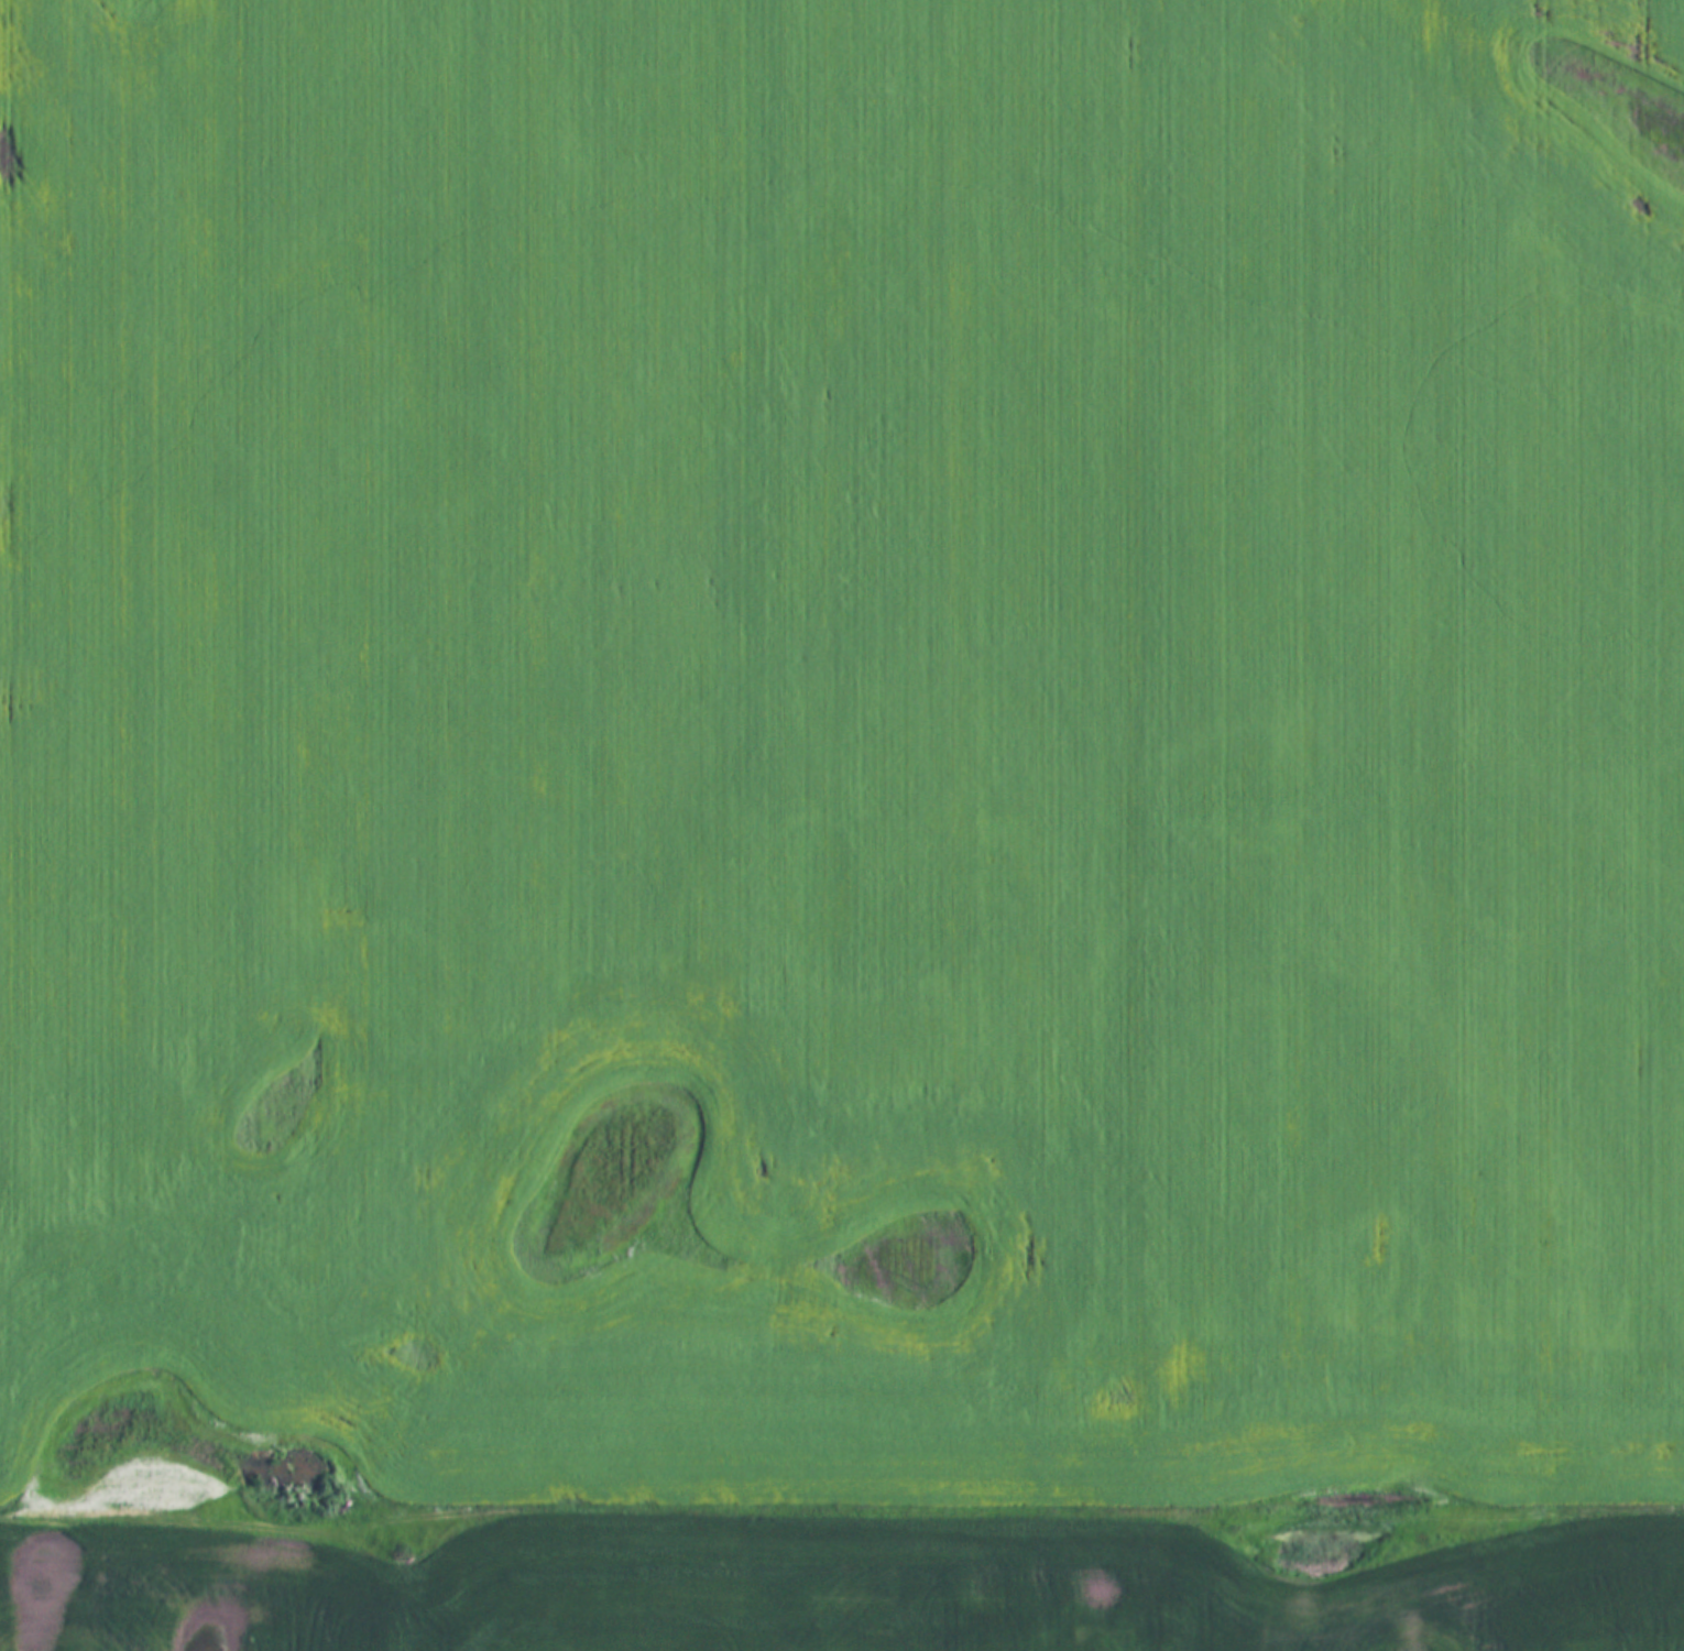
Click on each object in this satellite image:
road: (842, 1510)

